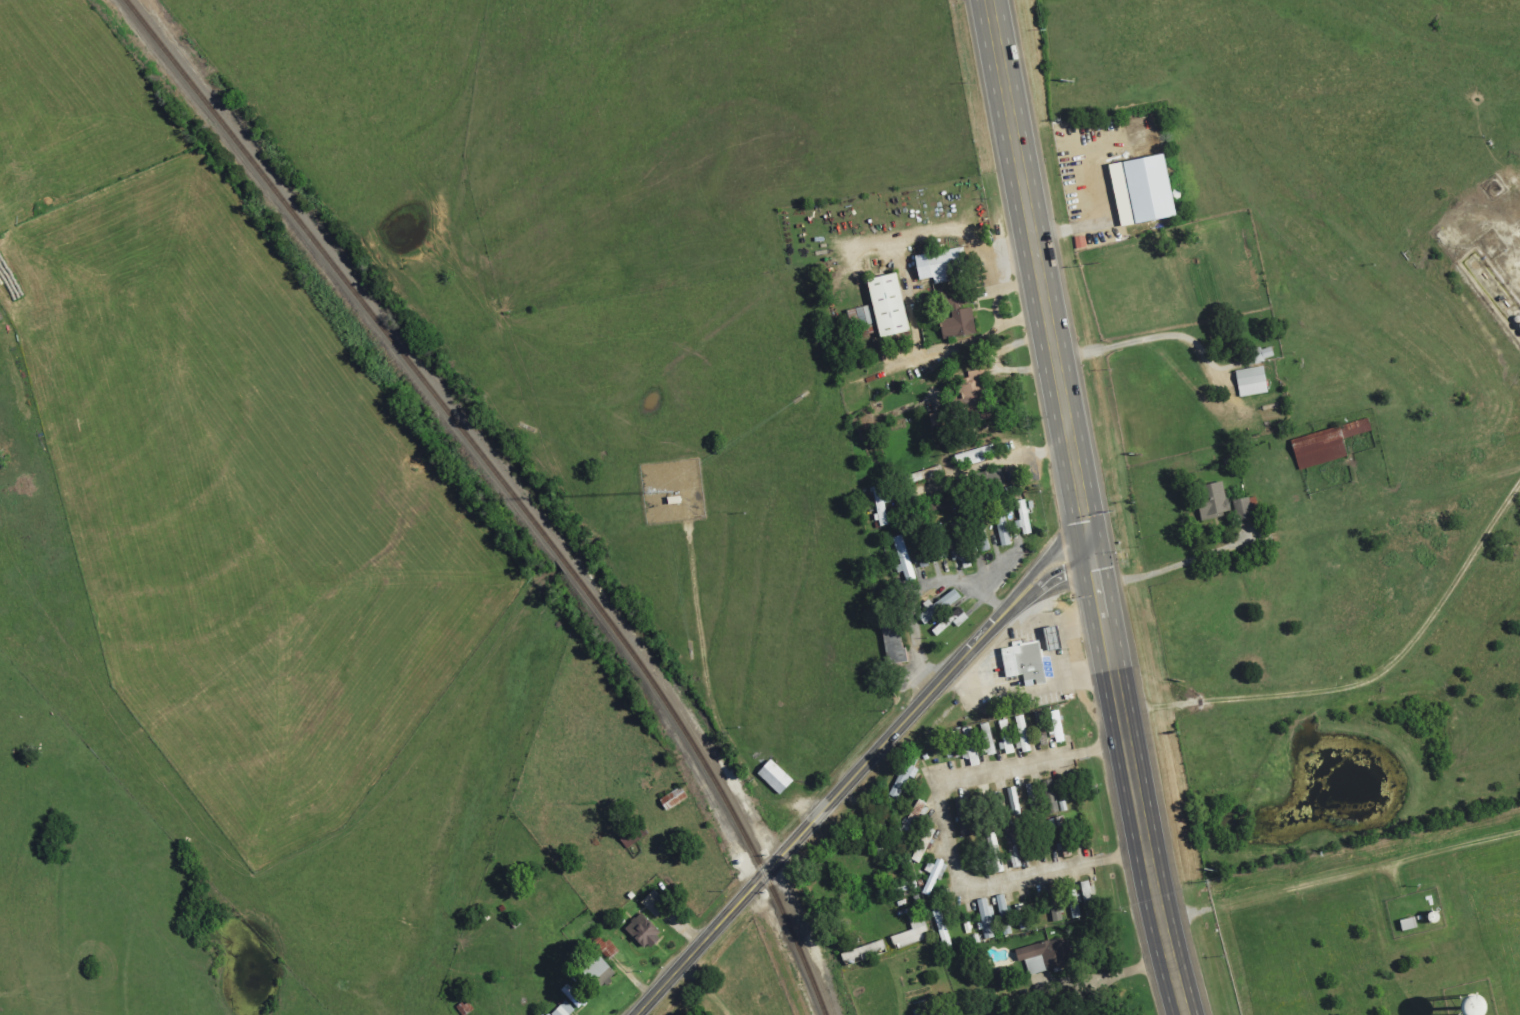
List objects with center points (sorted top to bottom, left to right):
building: (1145, 188)
building: (940, 266)
building: (886, 305)
building: (859, 316)
building: (957, 324)
road: (973, 339)
road: (1149, 339)
building: (1258, 355)
building: (1249, 381)
building: (1355, 428)
building: (1316, 448)
building: (921, 475)
building: (988, 482)
railway: (505, 487)
building: (1212, 500)
road: (1083, 507)
building: (1245, 508)
building: (1001, 525)
building: (902, 558)
road: (1165, 570)
building: (938, 606)
building: (949, 621)
building: (891, 643)
building: (1021, 661)
road: (1370, 681)
building: (1053, 724)
building: (1022, 733)
building: (1005, 736)
building: (987, 747)
road: (857, 770)
building: (772, 776)
building: (903, 776)
building: (670, 798)
building: (1005, 803)
building: (913, 816)
road: (947, 834)
building: (1059, 836)
building: (922, 845)
building: (993, 853)
building: (1013, 859)
building: (933, 876)
road: (1339, 877)
building: (1087, 899)
building: (653, 903)
building: (1004, 915)
building: (986, 918)
building: (1407, 924)
building: (641, 931)
building: (911, 934)
building: (978, 938)
building: (607, 949)
building: (862, 953)
building: (1046, 953)
building: (597, 971)
building: (1002, 979)
road: (702, 989)
building: (572, 996)
building: (562, 1009)

